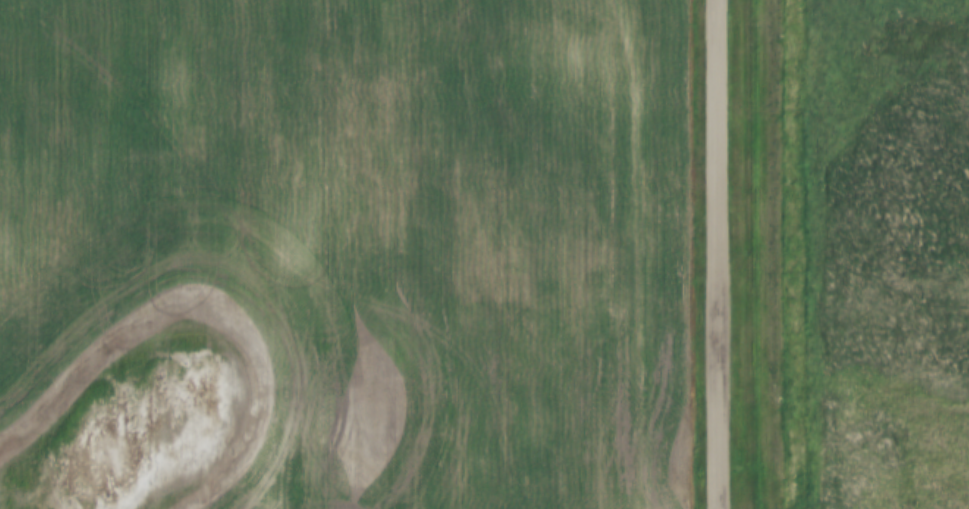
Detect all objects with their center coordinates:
road: (718, 254)

